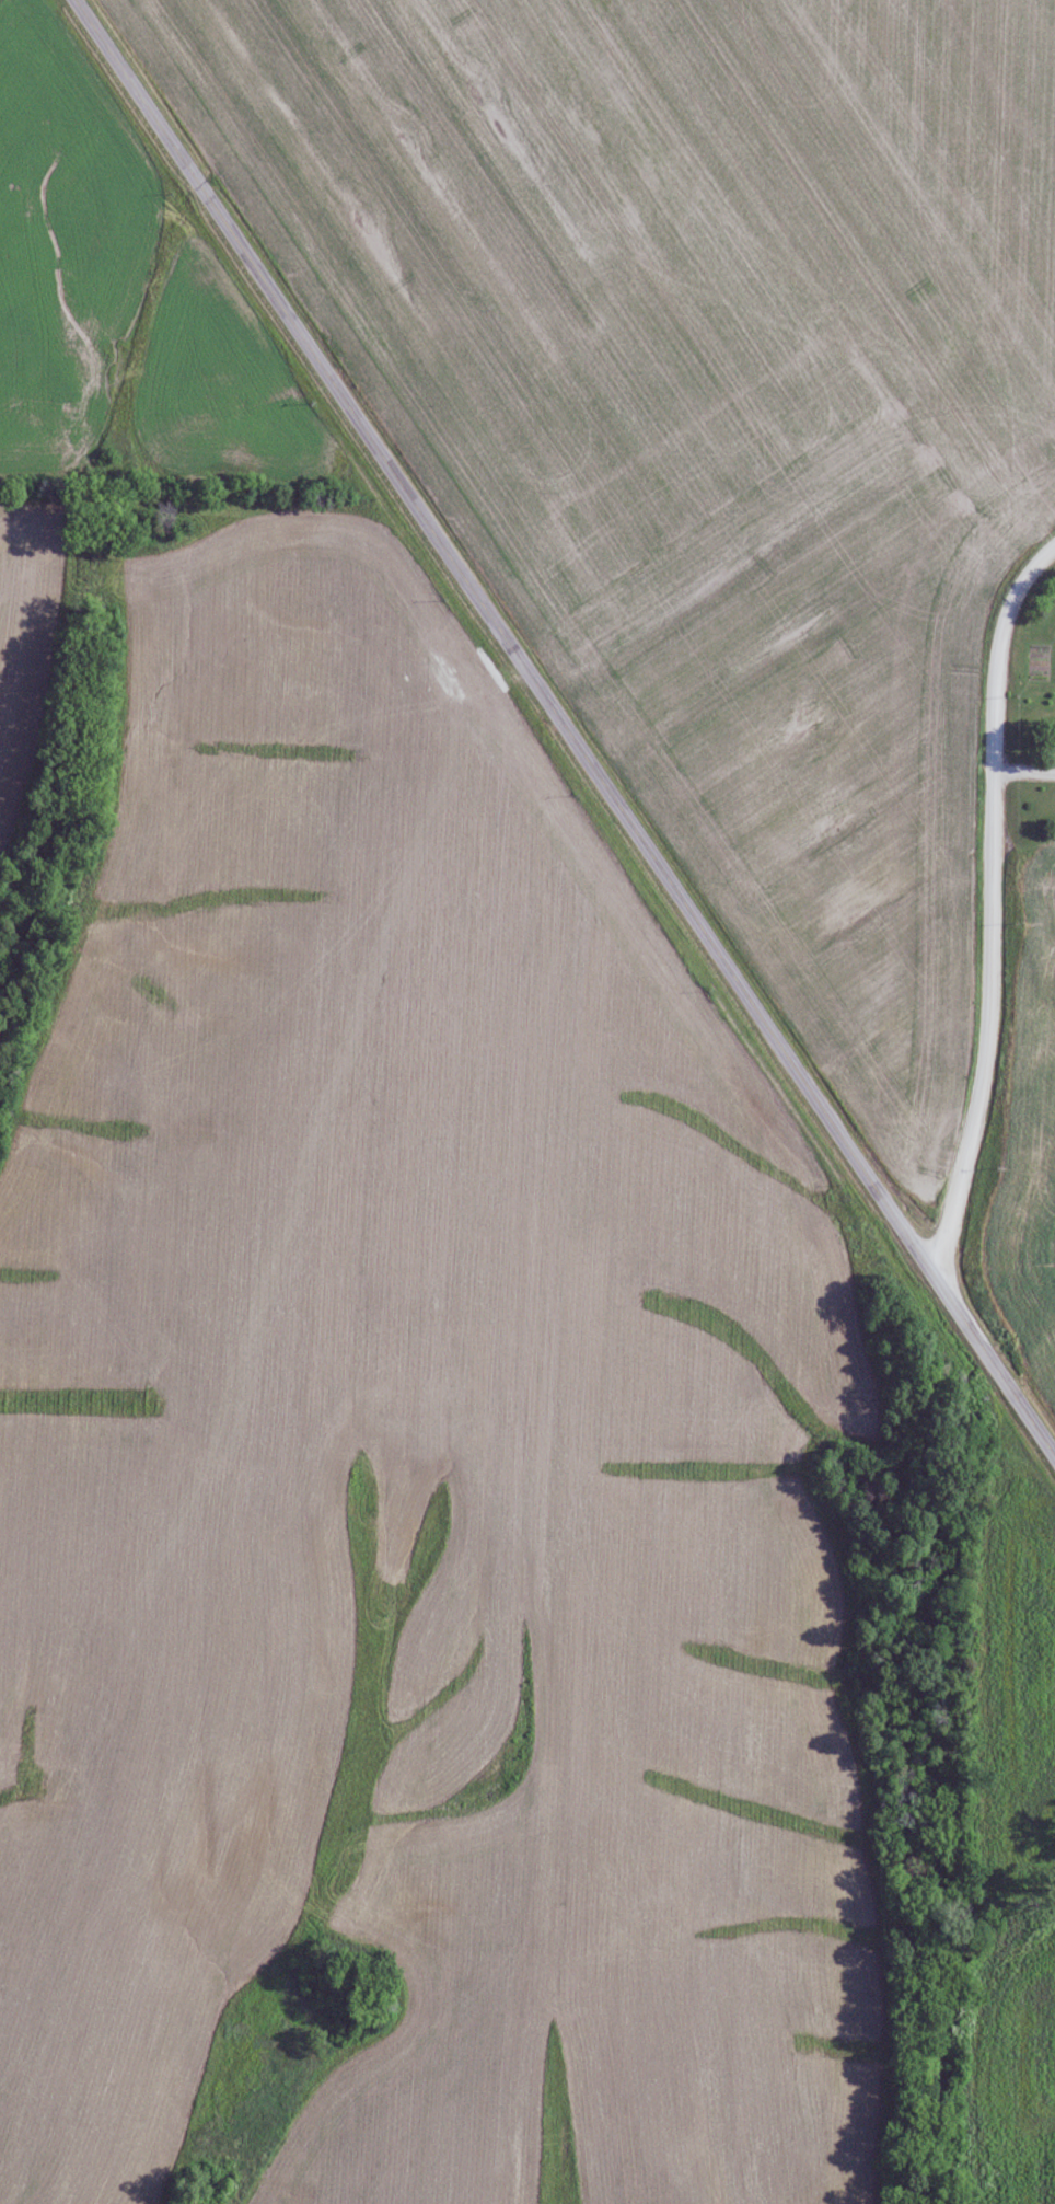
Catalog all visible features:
road: (507, 638)
road: (989, 904)
road: (997, 1365)

